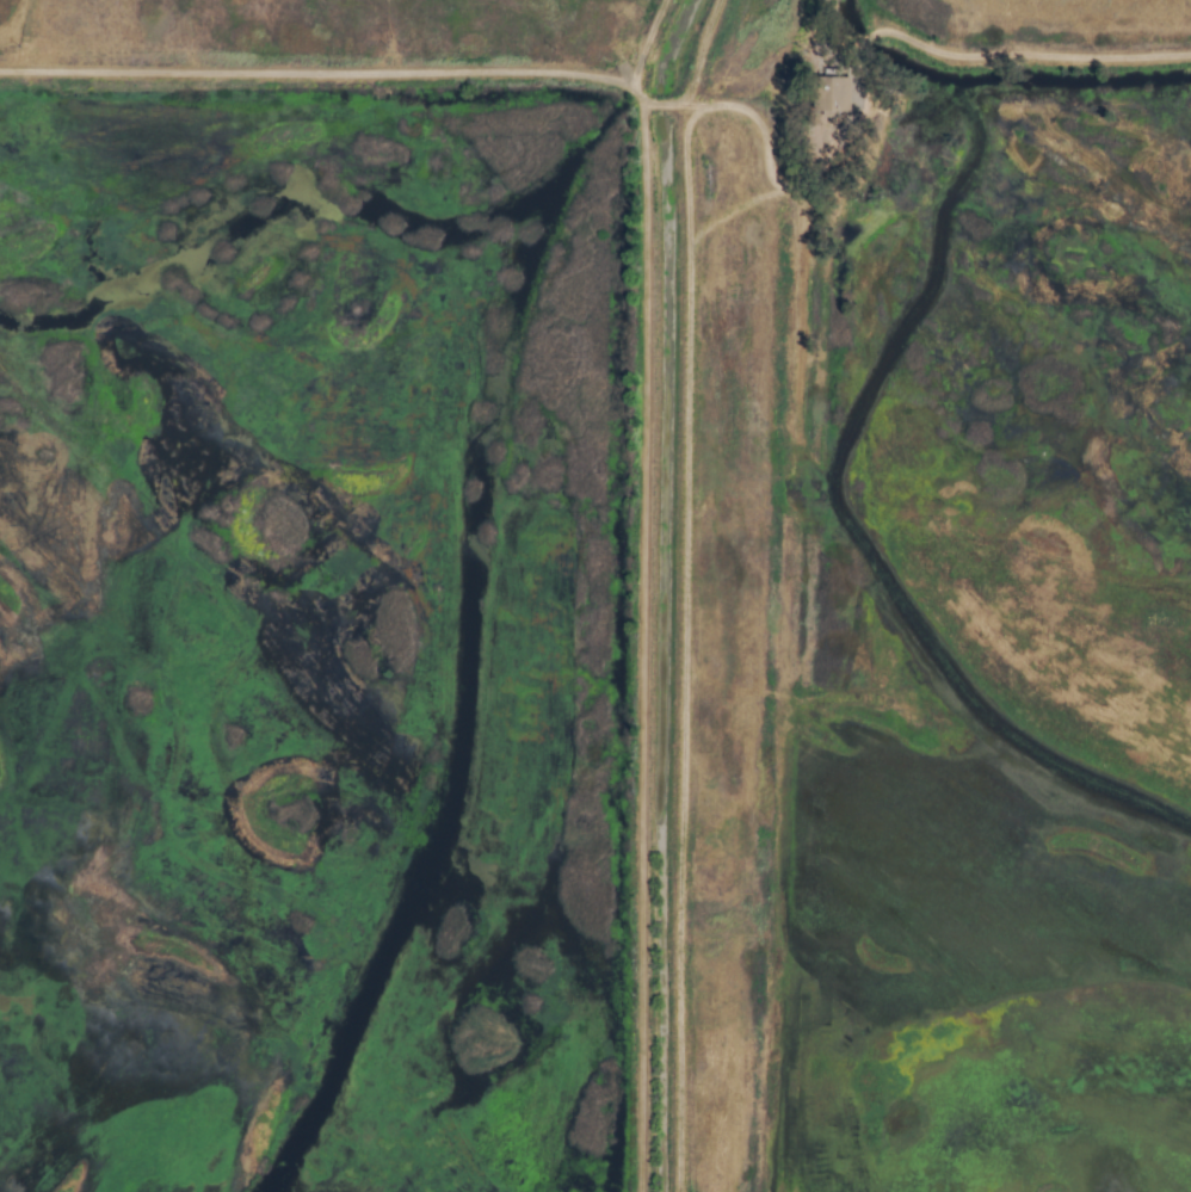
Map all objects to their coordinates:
road: (820, 24)
building: (832, 94)

